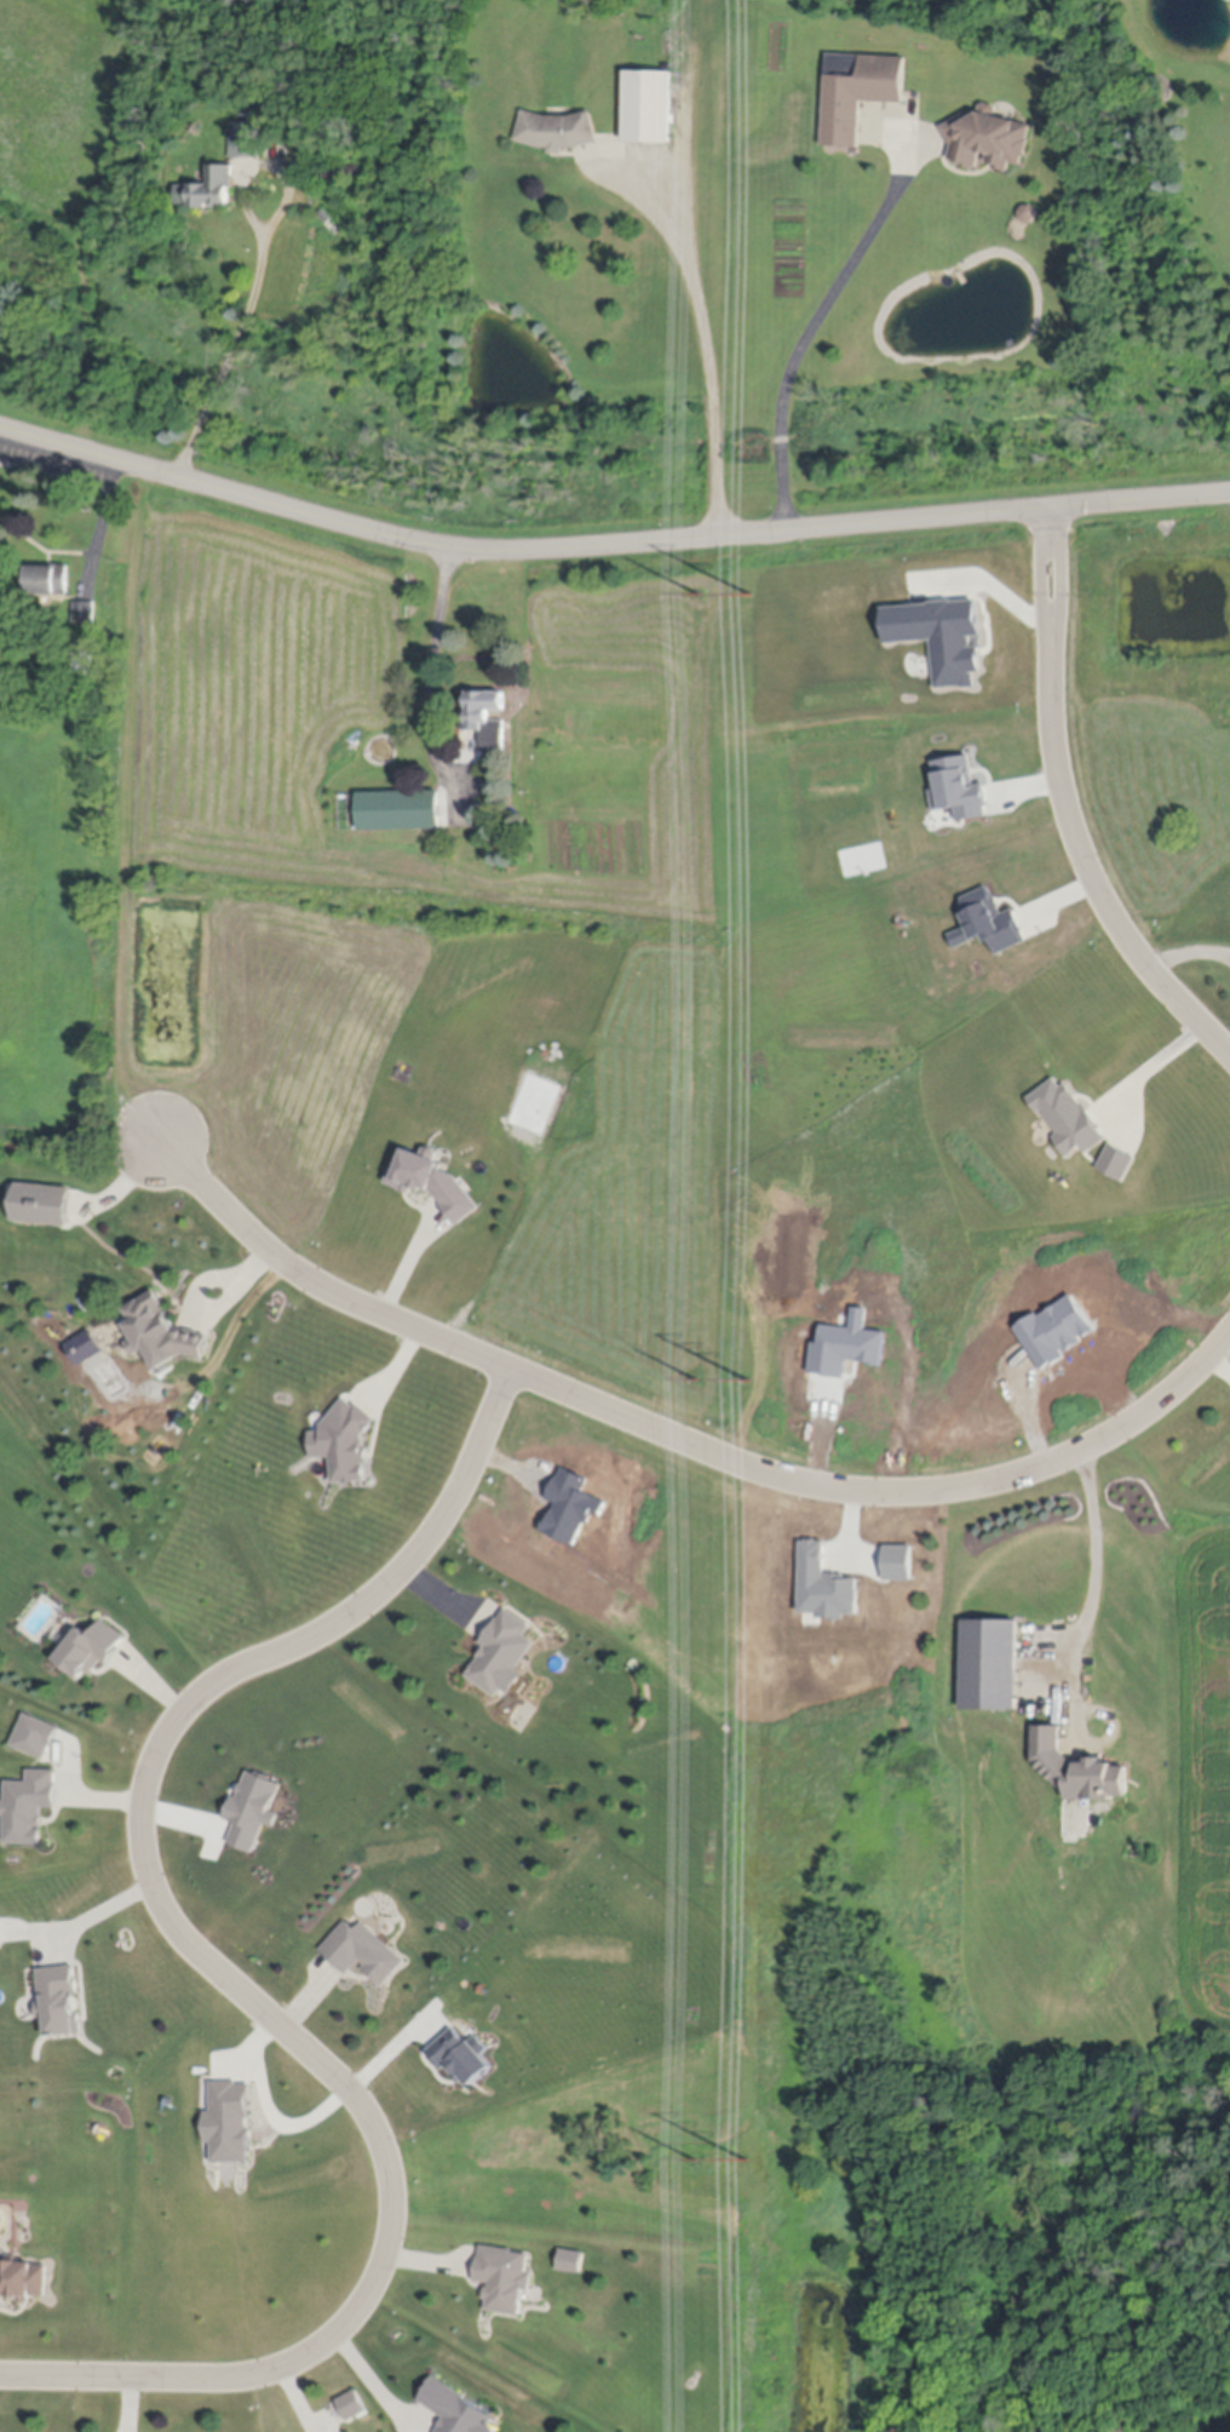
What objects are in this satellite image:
building: (858, 88)
building: (650, 104)
building: (558, 128)
building: (988, 136)
building: (246, 138)
building: (304, 142)
building: (350, 168)
building: (209, 187)
building: (1028, 211)
building: (303, 231)
building: (280, 263)
road: (811, 323)
road: (235, 335)
road: (707, 338)
road: (100, 523)
road: (607, 545)
building: (48, 578)
power tower: (696, 590)
power tower: (749, 592)
building: (85, 610)
building: (82, 661)
road: (432, 670)
building: (487, 717)
road: (1068, 808)
building: (393, 810)
building: (502, 849)
road: (1189, 962)
road: (1148, 1066)
building: (435, 1183)
building: (100, 1332)
building: (161, 1333)
power tower: (695, 1380)
power tower: (747, 1380)
road: (683, 1442)
road: (1097, 1558)
building: (91, 1650)
building: (504, 1656)
building: (990, 1667)
building: (1077, 1771)
building: (29, 1807)
building: (363, 1954)
road: (220, 1972)
building: (61, 2002)
power tower: (747, 2158)
power tower: (694, 2159)
building: (573, 2262)
building: (505, 2281)
building: (22, 2283)
building: (354, 2407)
building: (455, 2409)

